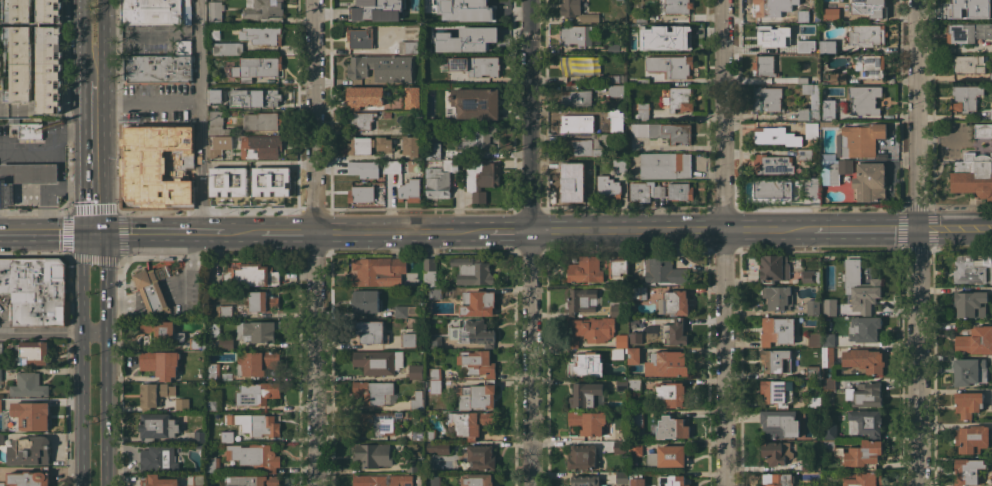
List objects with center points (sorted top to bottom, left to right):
building: (964, 5)
building: (675, 6)
building: (570, 7)
building: (262, 8)
building: (767, 8)
building: (870, 8)
building: (376, 10)
building: (466, 10)
building: (156, 11)
building: (215, 11)
building: (830, 14)
building: (803, 15)
building: (990, 15)
building: (641, 16)
building: (589, 18)
building: (968, 32)
building: (213, 33)
building: (771, 33)
building: (262, 34)
building: (576, 34)
building: (867, 34)
building: (360, 38)
building: (666, 38)
building: (468, 39)
road: (105, 40)
road: (81, 41)
building: (183, 46)
building: (410, 46)
building: (805, 46)
building: (827, 46)
building: (227, 48)
building: (613, 48)
building: (17, 55)
building: (968, 63)
building: (577, 64)
building: (476, 65)
building: (670, 65)
building: (764, 65)
building: (872, 66)
building: (256, 67)
building: (381, 68)
building: (158, 69)
building: (991, 76)
building: (837, 77)
building: (211, 78)
building: (614, 78)
building: (806, 79)
building: (643, 80)
building: (616, 91)
road: (96, 96)
building: (216, 96)
building: (364, 96)
building: (253, 97)
building: (412, 97)
building: (964, 97)
building: (576, 98)
building: (678, 99)
building: (767, 99)
building: (865, 99)
building: (815, 100)
road: (147, 102)
building: (474, 102)
building: (828, 109)
building: (642, 111)
building: (613, 112)
building: (991, 113)
building: (387, 114)
road: (917, 114)
road: (724, 115)
road: (198, 116)
road: (316, 116)
road: (532, 116)
building: (361, 120)
building: (261, 121)
building: (576, 122)
building: (830, 123)
building: (217, 124)
building: (26, 128)
building: (811, 129)
building: (983, 130)
building: (662, 131)
building: (477, 135)
building: (776, 136)
building: (859, 139)
road: (941, 139)
building: (383, 144)
building: (220, 145)
building: (359, 145)
building: (411, 145)
building: (261, 147)
building: (582, 147)
road: (54, 150)
building: (433, 150)
building: (803, 153)
road: (351, 156)
building: (587, 162)
building: (286, 164)
building: (621, 164)
building: (772, 164)
building: (411, 165)
building: (665, 165)
building: (395, 166)
building: (362, 169)
building: (834, 170)
building: (28, 173)
road: (96, 174)
building: (973, 174)
building: (482, 178)
building: (440, 179)
building: (226, 181)
building: (269, 181)
building: (870, 181)
building: (572, 185)
building: (608, 187)
building: (811, 187)
building: (772, 188)
road: (52, 190)
road: (78, 190)
building: (409, 190)
building: (646, 190)
building: (680, 191)
building: (360, 193)
road: (861, 228)
traffic signals: (918, 228)
road: (955, 228)
road: (764, 229)
road: (698, 230)
road: (603, 231)
road: (400, 232)
road: (508, 232)
road: (168, 233)
road: (280, 233)
road: (47, 234)
traffic signals: (95, 234)
building: (619, 268)
building: (968, 268)
building: (585, 269)
building: (773, 269)
building: (377, 270)
building: (663, 270)
building: (429, 271)
building: (472, 271)
building: (991, 272)
building: (250, 274)
building: (810, 276)
building: (860, 286)
building: (152, 288)
building: (36, 290)
building: (435, 293)
building: (777, 297)
building: (365, 300)
building: (581, 300)
building: (261, 301)
building: (674, 302)
building: (478, 303)
building: (971, 303)
building: (829, 306)
building: (813, 307)
building: (405, 310)
building: (614, 310)
building: (225, 311)
building: (864, 328)
building: (590, 329)
road: (96, 330)
building: (777, 330)
building: (257, 331)
building: (371, 331)
building: (162, 332)
building: (675, 332)
building: (473, 333)
road: (41, 334)
building: (409, 337)
building: (635, 337)
building: (814, 339)
building: (828, 339)
building: (621, 340)
building: (975, 340)
building: (225, 342)
building: (434, 342)
building: (198, 343)
building: (1, 347)
building: (32, 353)
building: (617, 353)
road: (110, 356)
building: (634, 356)
road: (83, 357)
building: (828, 357)
road: (917, 357)
road: (726, 358)
road: (318, 359)
road: (534, 359)
building: (776, 360)
building: (864, 360)
building: (378, 361)
building: (256, 362)
building: (160, 363)
building: (477, 363)
building: (666, 363)
building: (583, 364)
building: (212, 371)
building: (415, 371)
building: (815, 371)
building: (969, 371)
building: (434, 374)
building: (0, 377)
building: (829, 383)
building: (28, 385)
building: (426, 385)
building: (621, 385)
building: (635, 385)
building: (435, 386)
building: (374, 392)
building: (778, 392)
building: (257, 393)
building: (154, 394)
building: (480, 394)
building: (672, 394)
building: (865, 394)
building: (586, 395)
building: (415, 401)
building: (814, 402)
building: (968, 403)
building: (182, 404)
building: (0, 405)
building: (212, 405)
building: (28, 416)
building: (637, 418)
building: (867, 421)
building: (378, 422)
building: (588, 422)
building: (470, 423)
building: (779, 423)
building: (265, 425)
building: (157, 426)
building: (672, 428)
building: (829, 430)
building: (417, 435)
building: (429, 435)
building: (200, 436)
building: (227, 436)
building: (972, 438)
building: (2, 439)
building: (200, 445)
building: (438, 447)
building: (620, 447)
building: (635, 448)
building: (29, 450)
building: (776, 452)
building: (857, 453)
building: (372, 454)
building: (254, 456)
building: (482, 456)
building: (668, 456)
building: (581, 457)
building: (160, 458)
building: (808, 463)
building: (213, 465)
building: (413, 465)
building: (968, 471)
building: (29, 478)
building: (621, 478)
building: (862, 478)
building: (199, 479)
building: (477, 479)
building: (635, 479)
building: (777, 479)
building: (253, 480)
building: (382, 480)
building: (432, 480)
building: (673, 480)
building: (158, 481)
building: (584, 481)
building: (2, 483)
building: (811, 484)
building: (828, 484)

